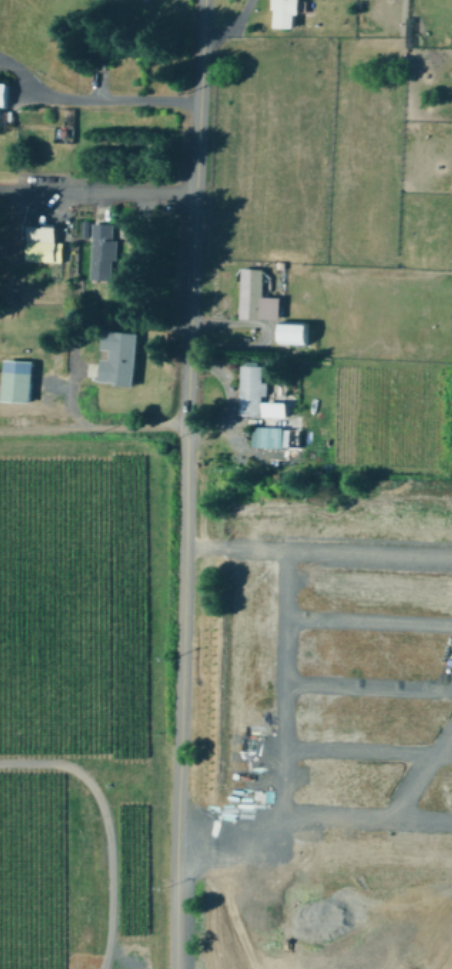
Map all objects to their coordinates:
building: (288, 12)
road: (228, 25)
building: (6, 92)
road: (115, 101)
road: (98, 192)
building: (45, 243)
building: (105, 249)
building: (260, 295)
road: (78, 321)
building: (300, 332)
building: (121, 356)
building: (22, 379)
building: (254, 388)
building: (279, 407)
road: (92, 427)
building: (273, 435)
road: (184, 484)
crop: (326, 702)
road: (107, 825)

